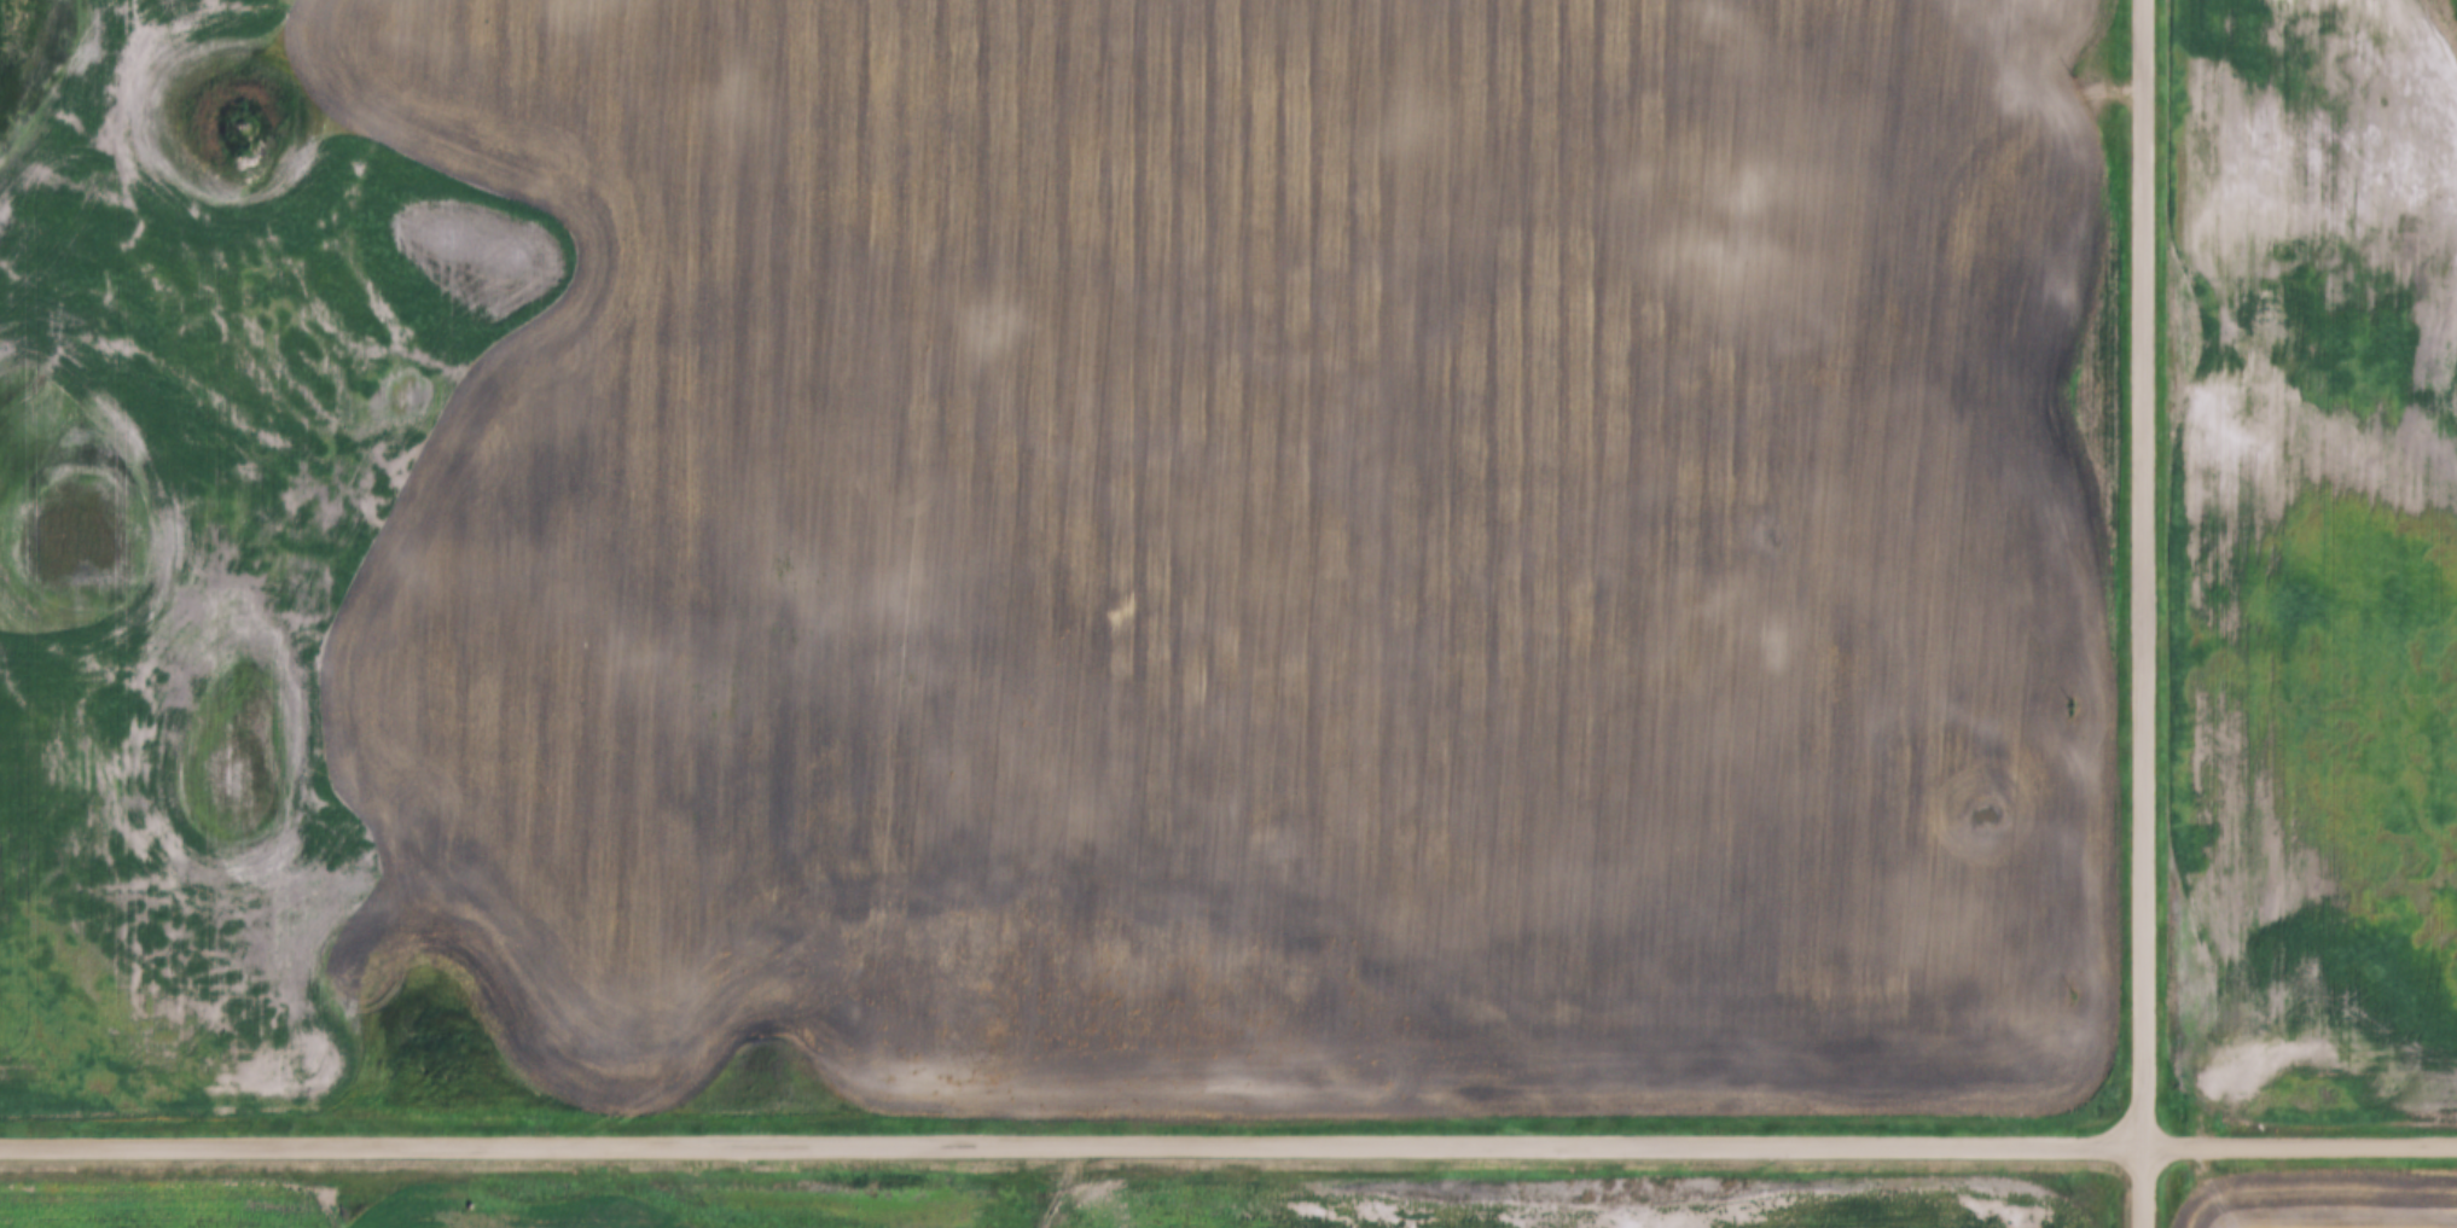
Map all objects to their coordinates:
road: (2137, 613)
road: (1228, 1141)

